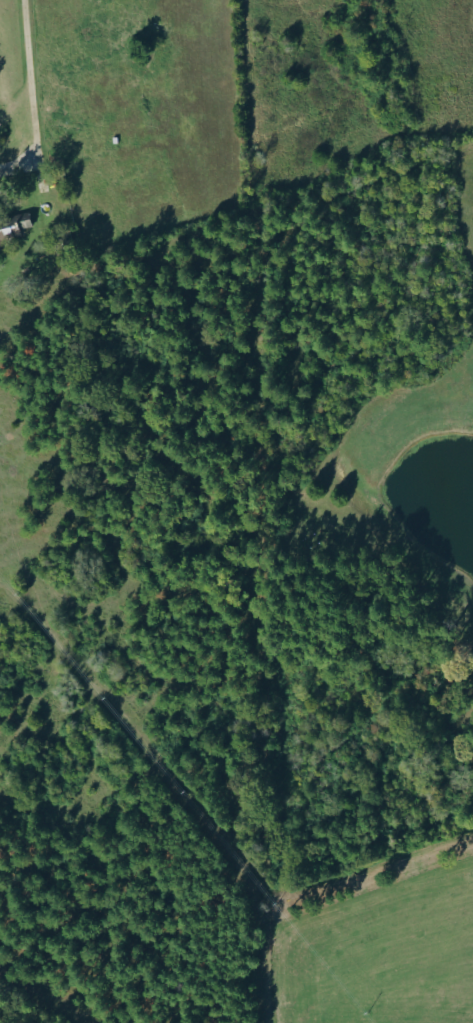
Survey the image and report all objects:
road: (28, 93)
building: (12, 227)

